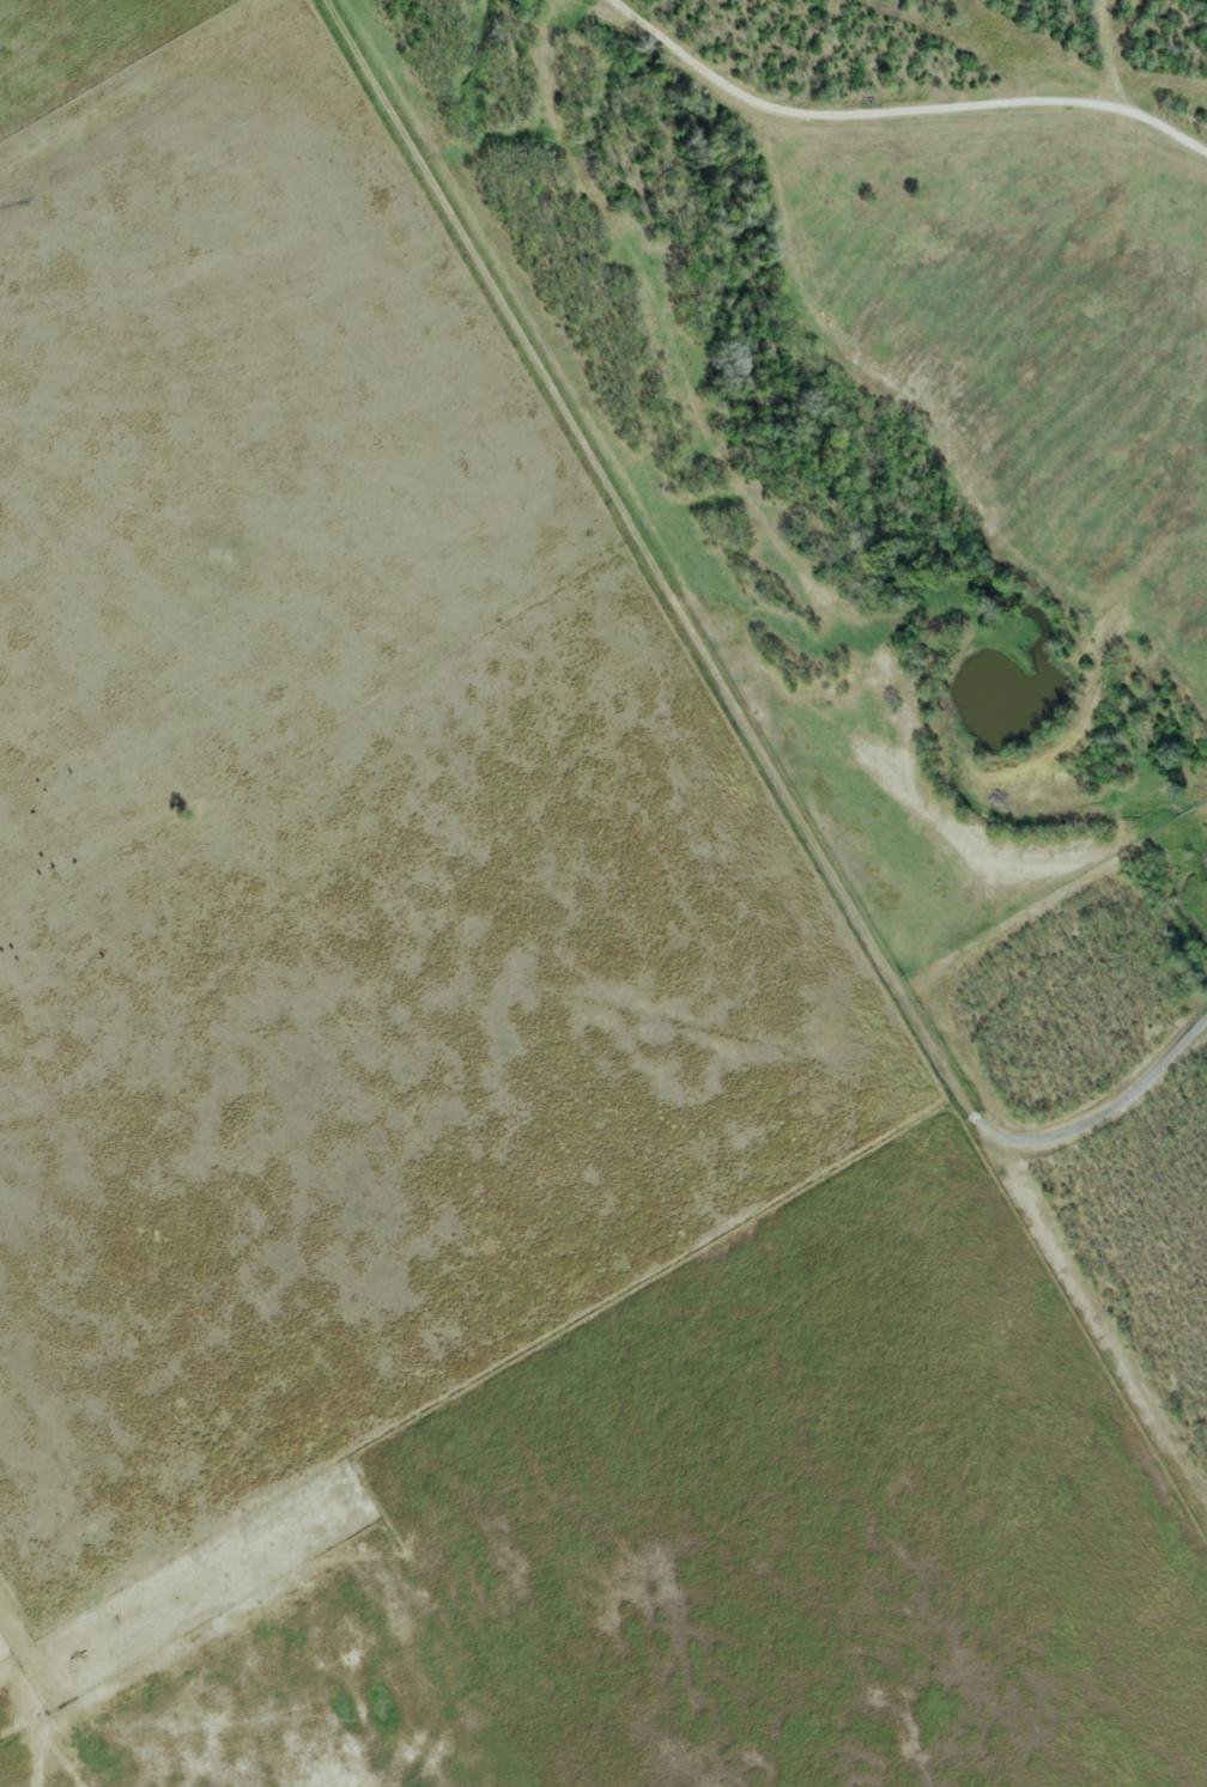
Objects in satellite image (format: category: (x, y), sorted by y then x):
road: (888, 109)

